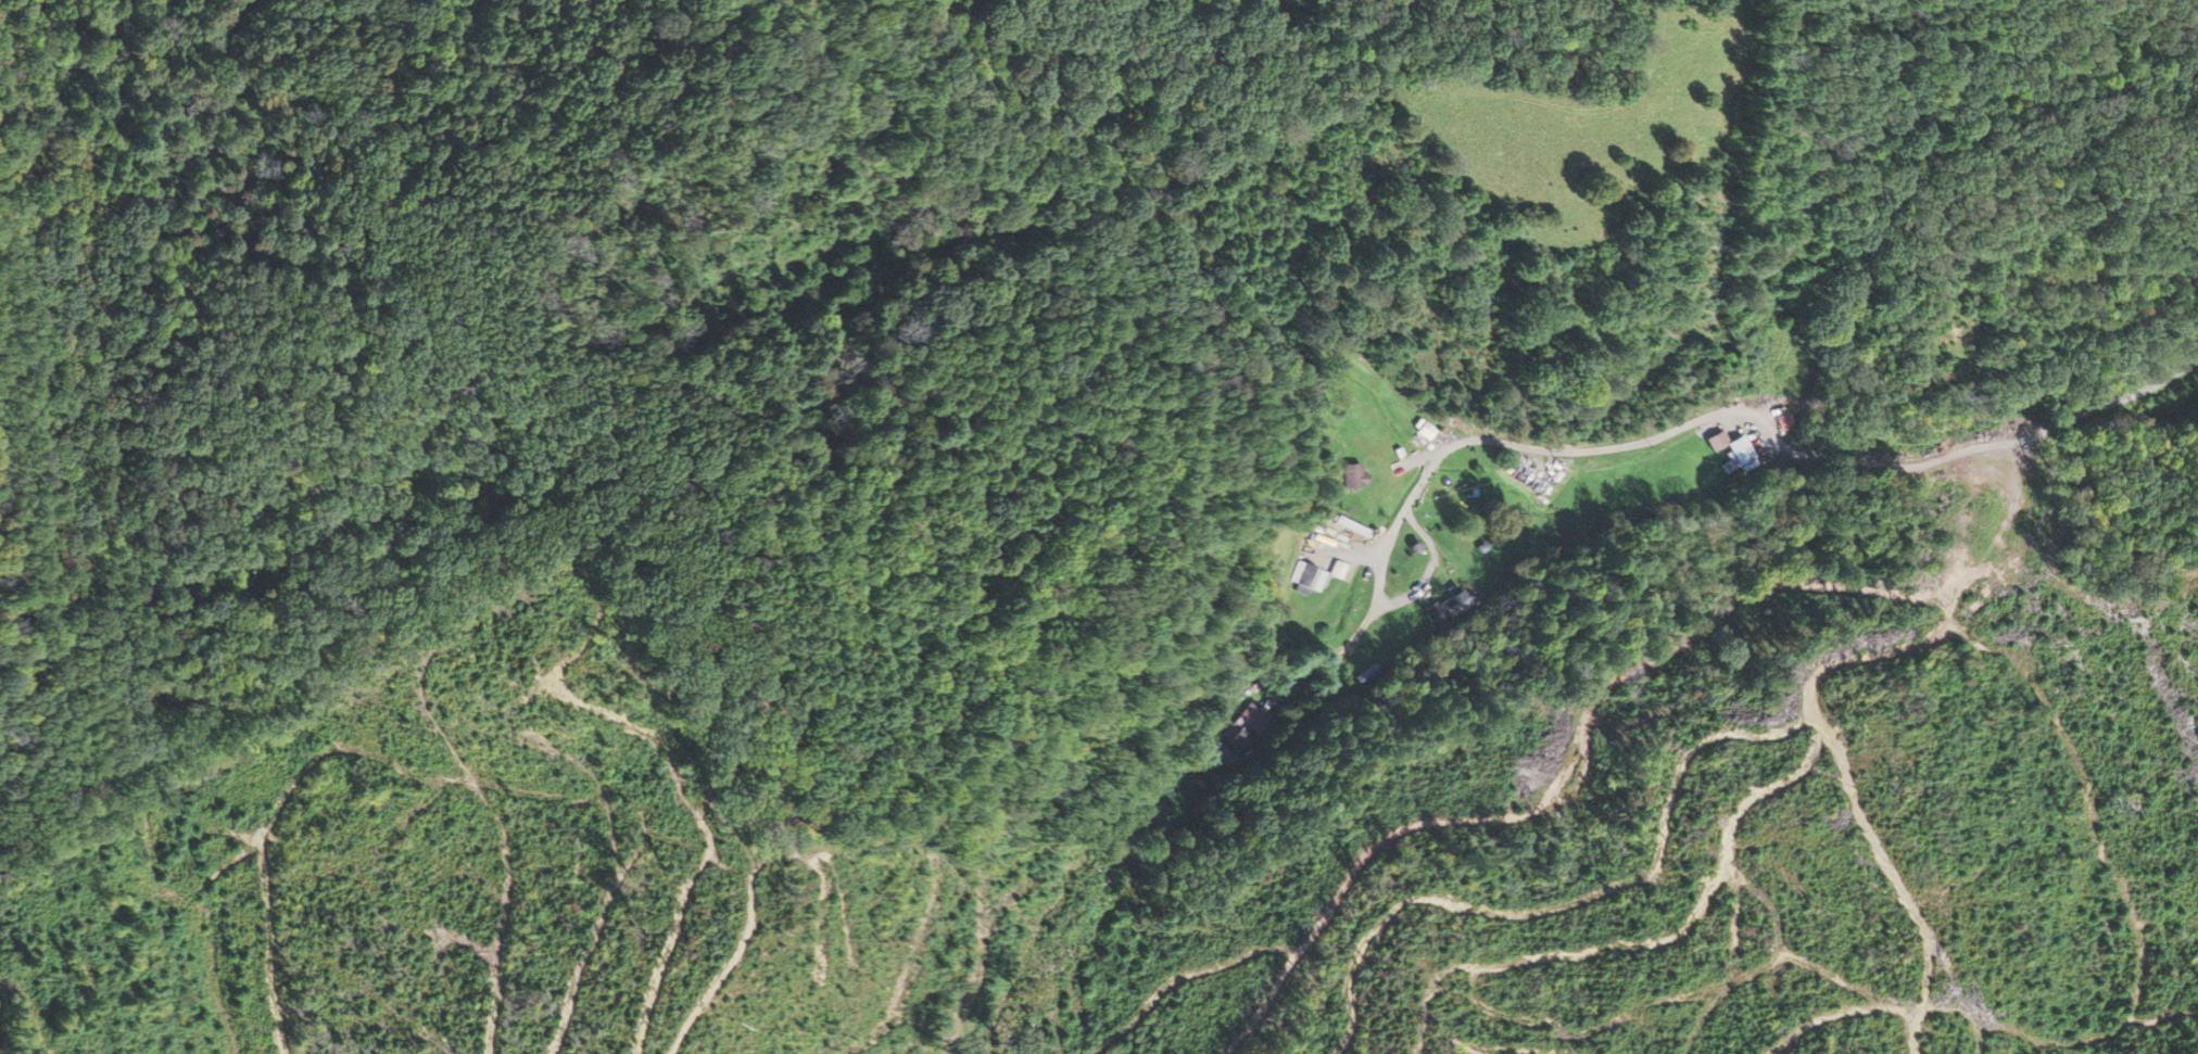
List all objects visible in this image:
building: (1423, 432)
building: (1738, 455)
building: (1351, 475)
road: (1841, 480)
building: (1313, 577)
building: (1256, 721)
building: (1235, 746)

